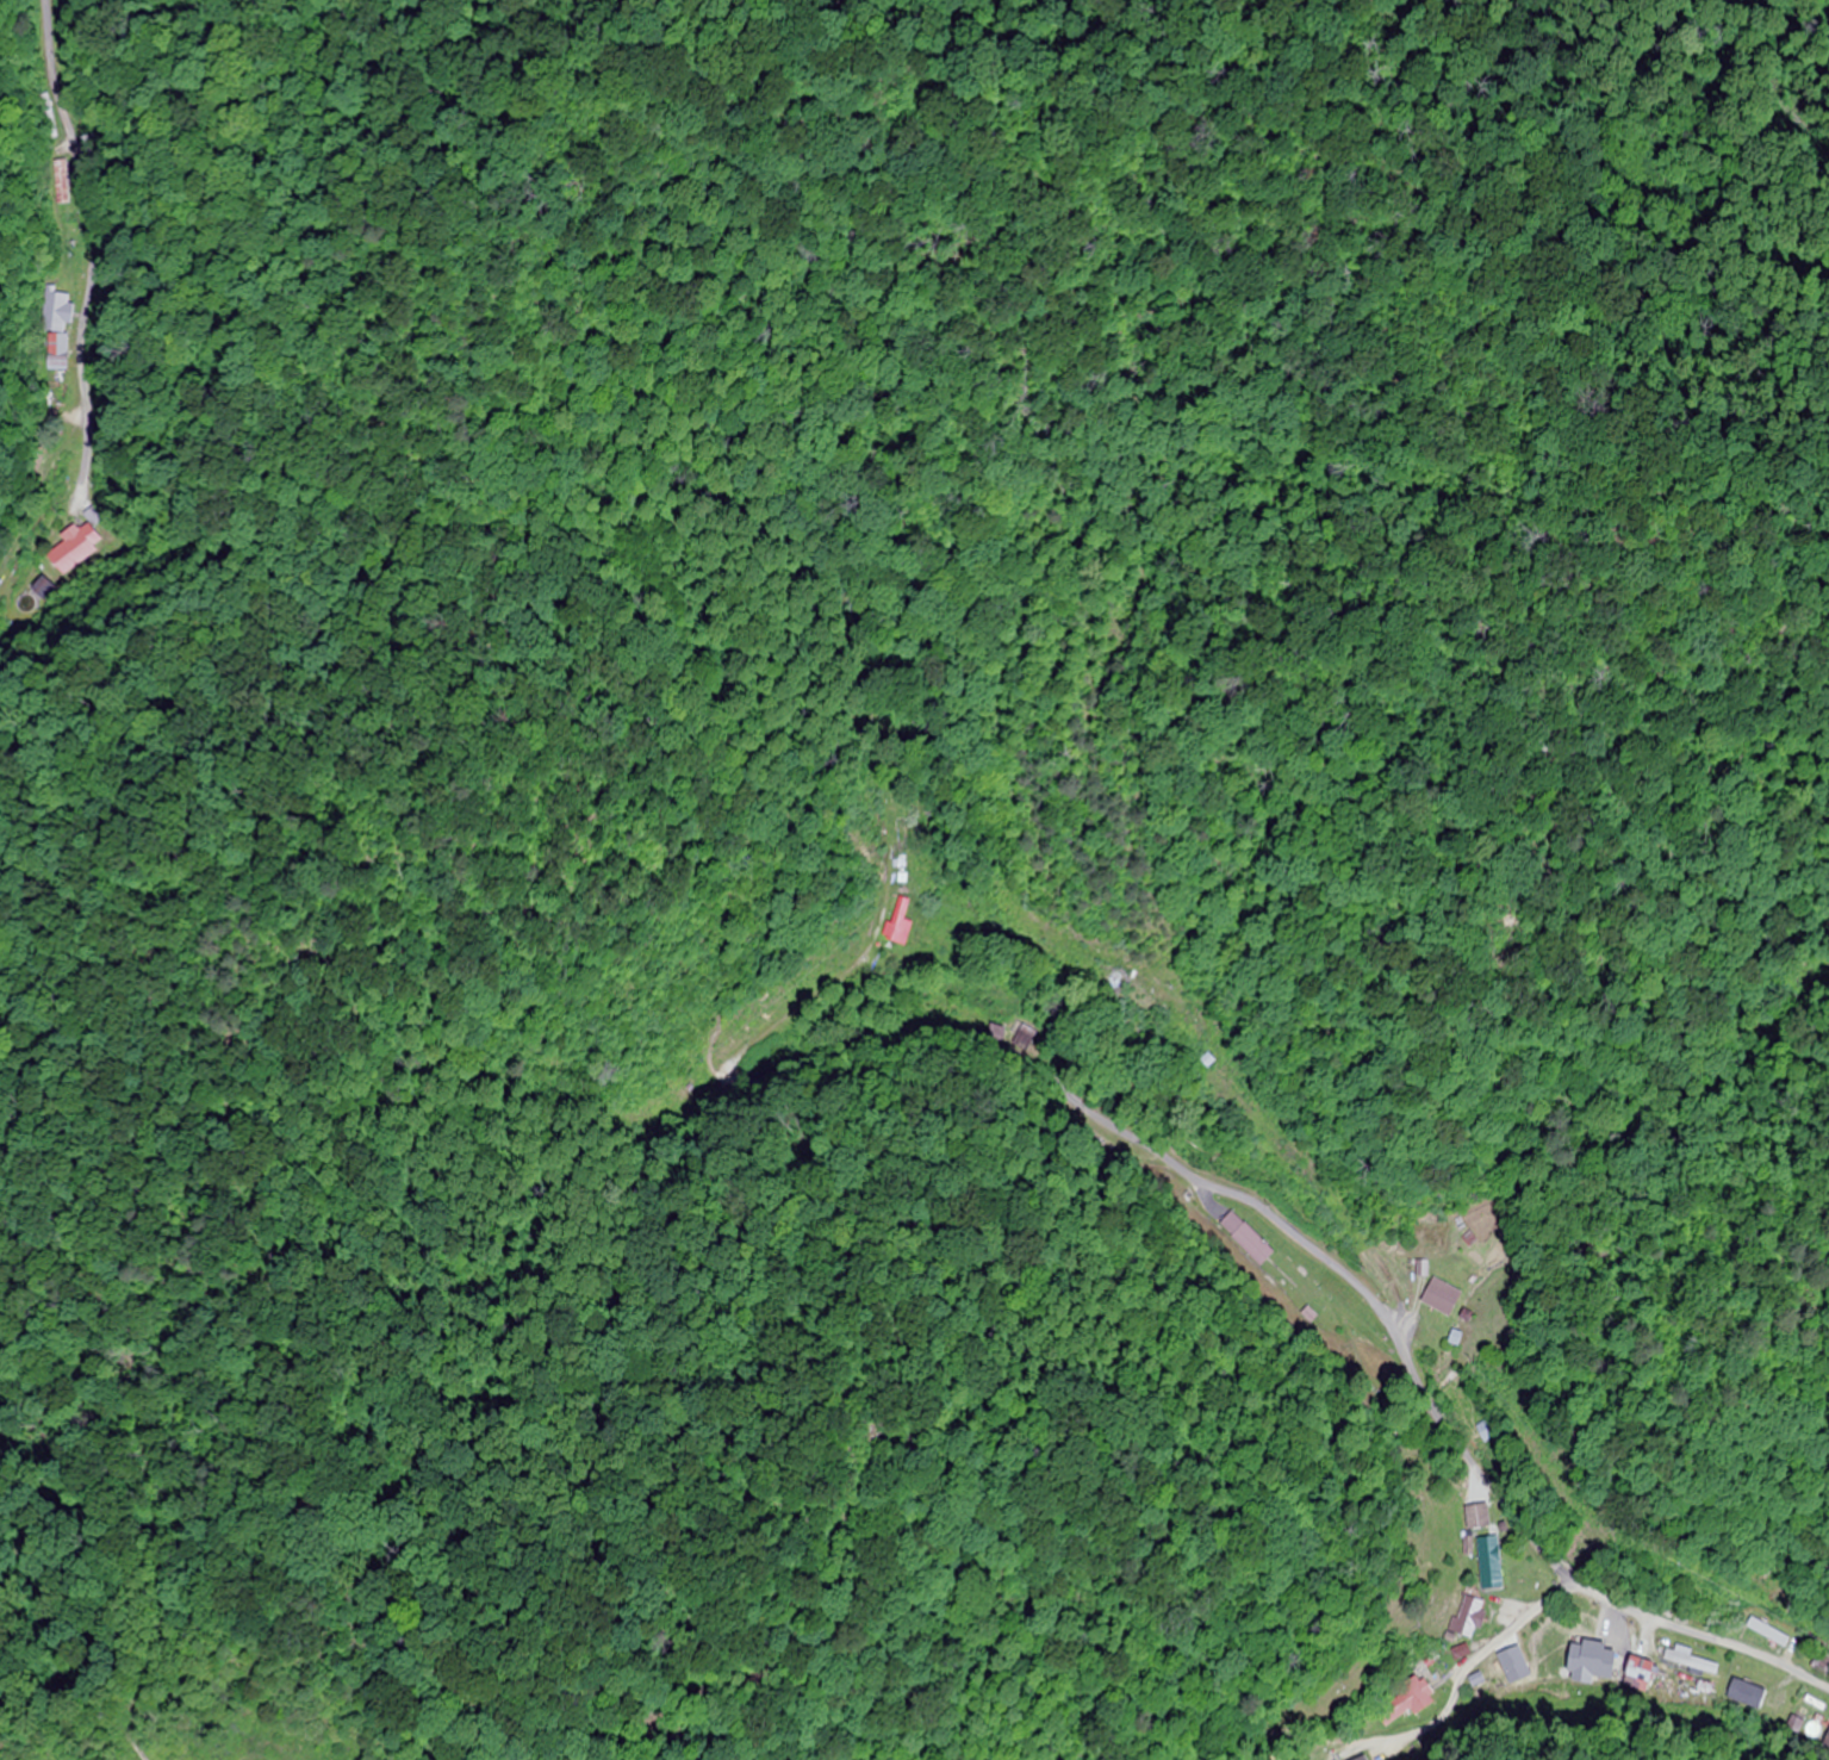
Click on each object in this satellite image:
building: (37, 173)
building: (56, 310)
building: (60, 352)
building: (896, 926)
road: (1344, 1276)
building: (1439, 1298)
building: (1476, 1518)
building: (1486, 1565)
building: (1466, 1621)
building: (1766, 1634)
building: (1405, 1702)
building: (1365, 1758)

